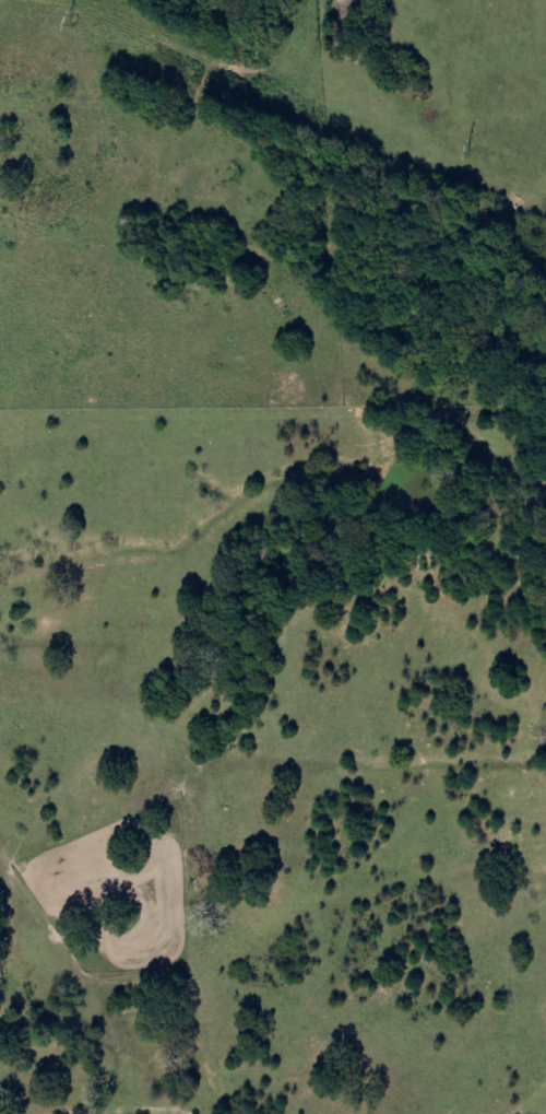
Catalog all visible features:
power tower: (73, 17)
power tower: (472, 149)

